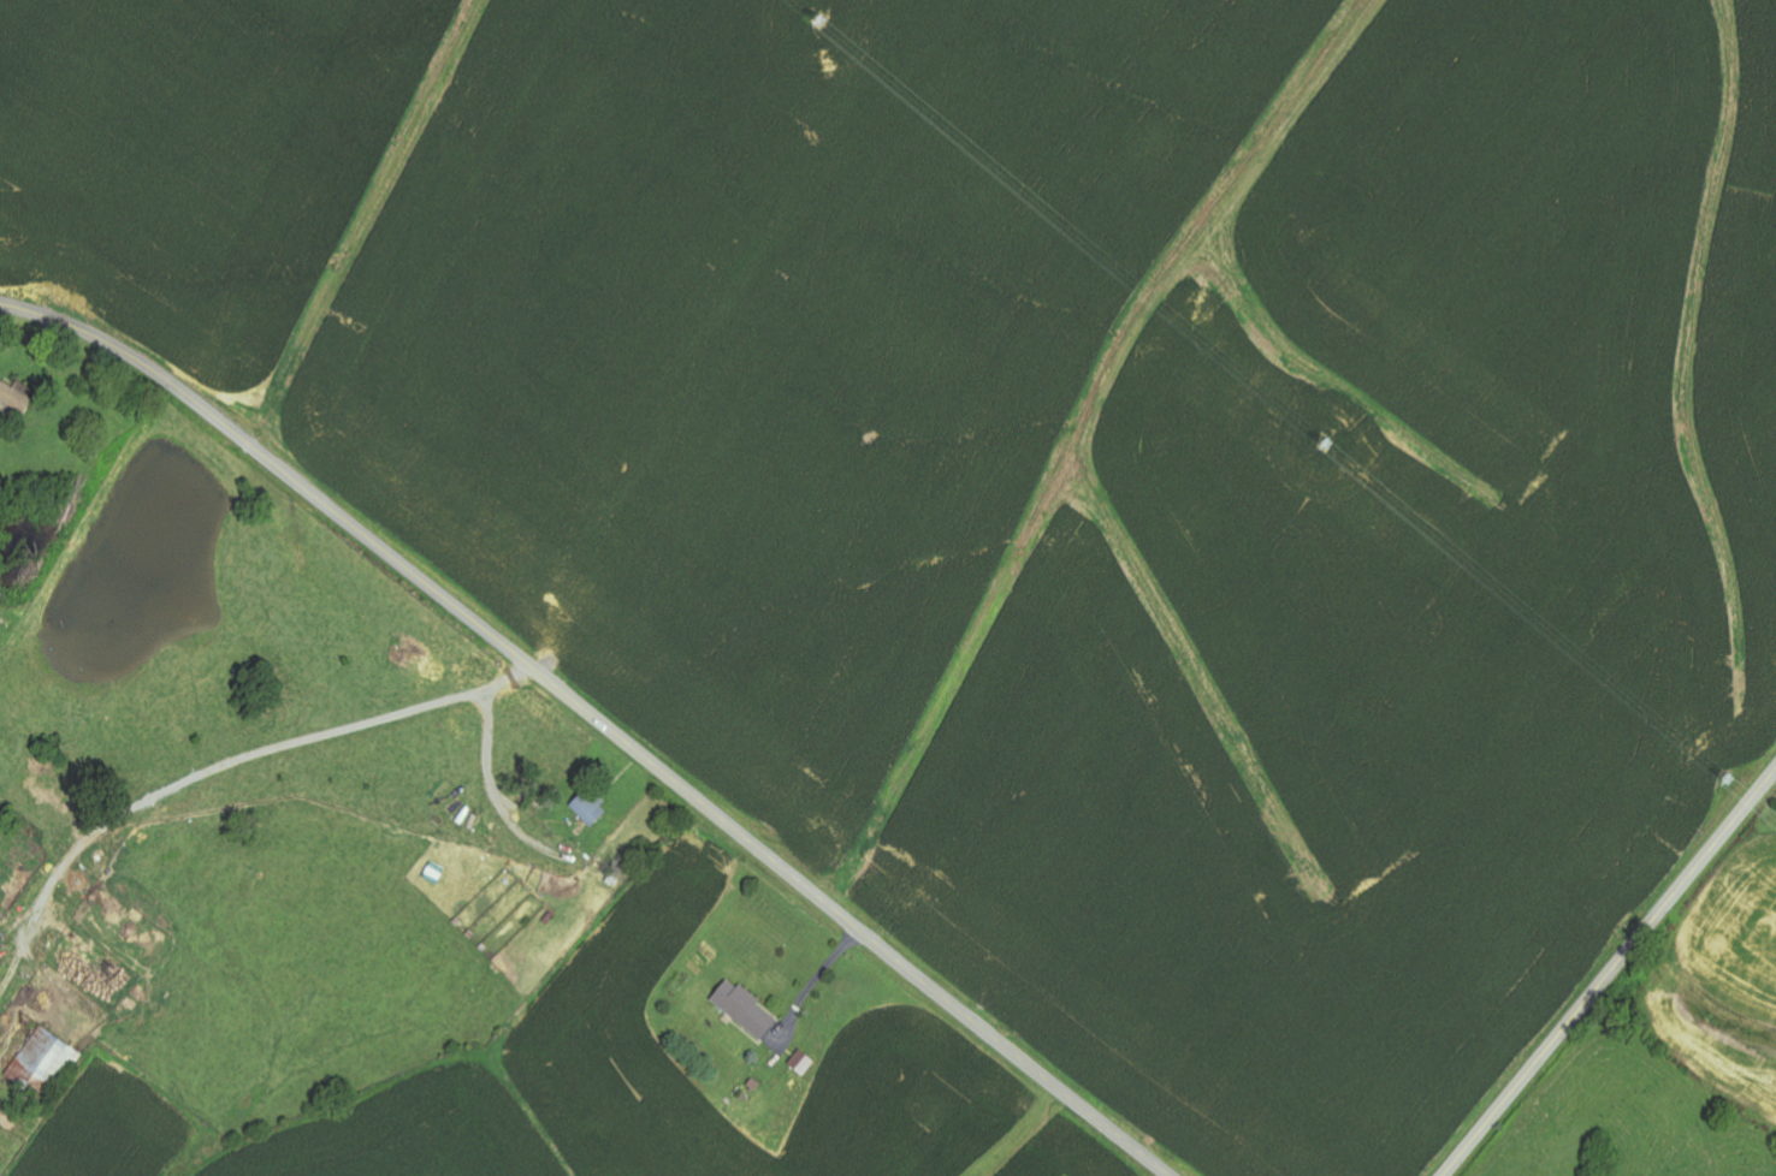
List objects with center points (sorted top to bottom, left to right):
building: (17, 396)
road: (597, 719)
road: (253, 753)
building: (591, 808)
road: (819, 973)
road: (1609, 973)
building: (747, 1009)
building: (45, 1061)
building: (804, 1063)

